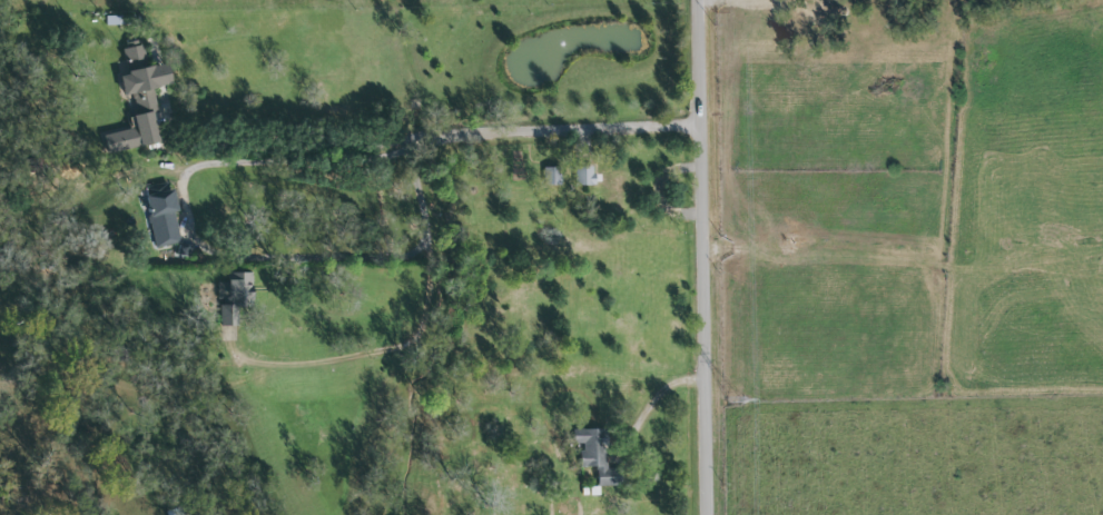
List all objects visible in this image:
building: (137, 99)
road: (560, 128)
road: (293, 142)
building: (585, 176)
building: (553, 177)
building: (160, 215)
road: (188, 215)
road: (709, 257)
building: (235, 296)
road: (423, 337)
road: (653, 397)
power tower: (733, 400)
building: (598, 456)

